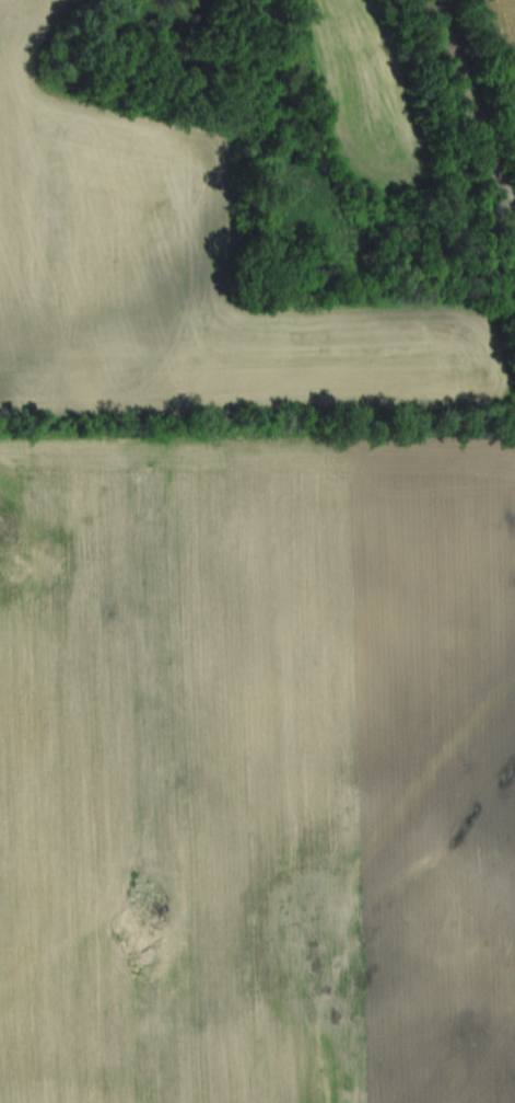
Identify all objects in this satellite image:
railway: (488, 81)

